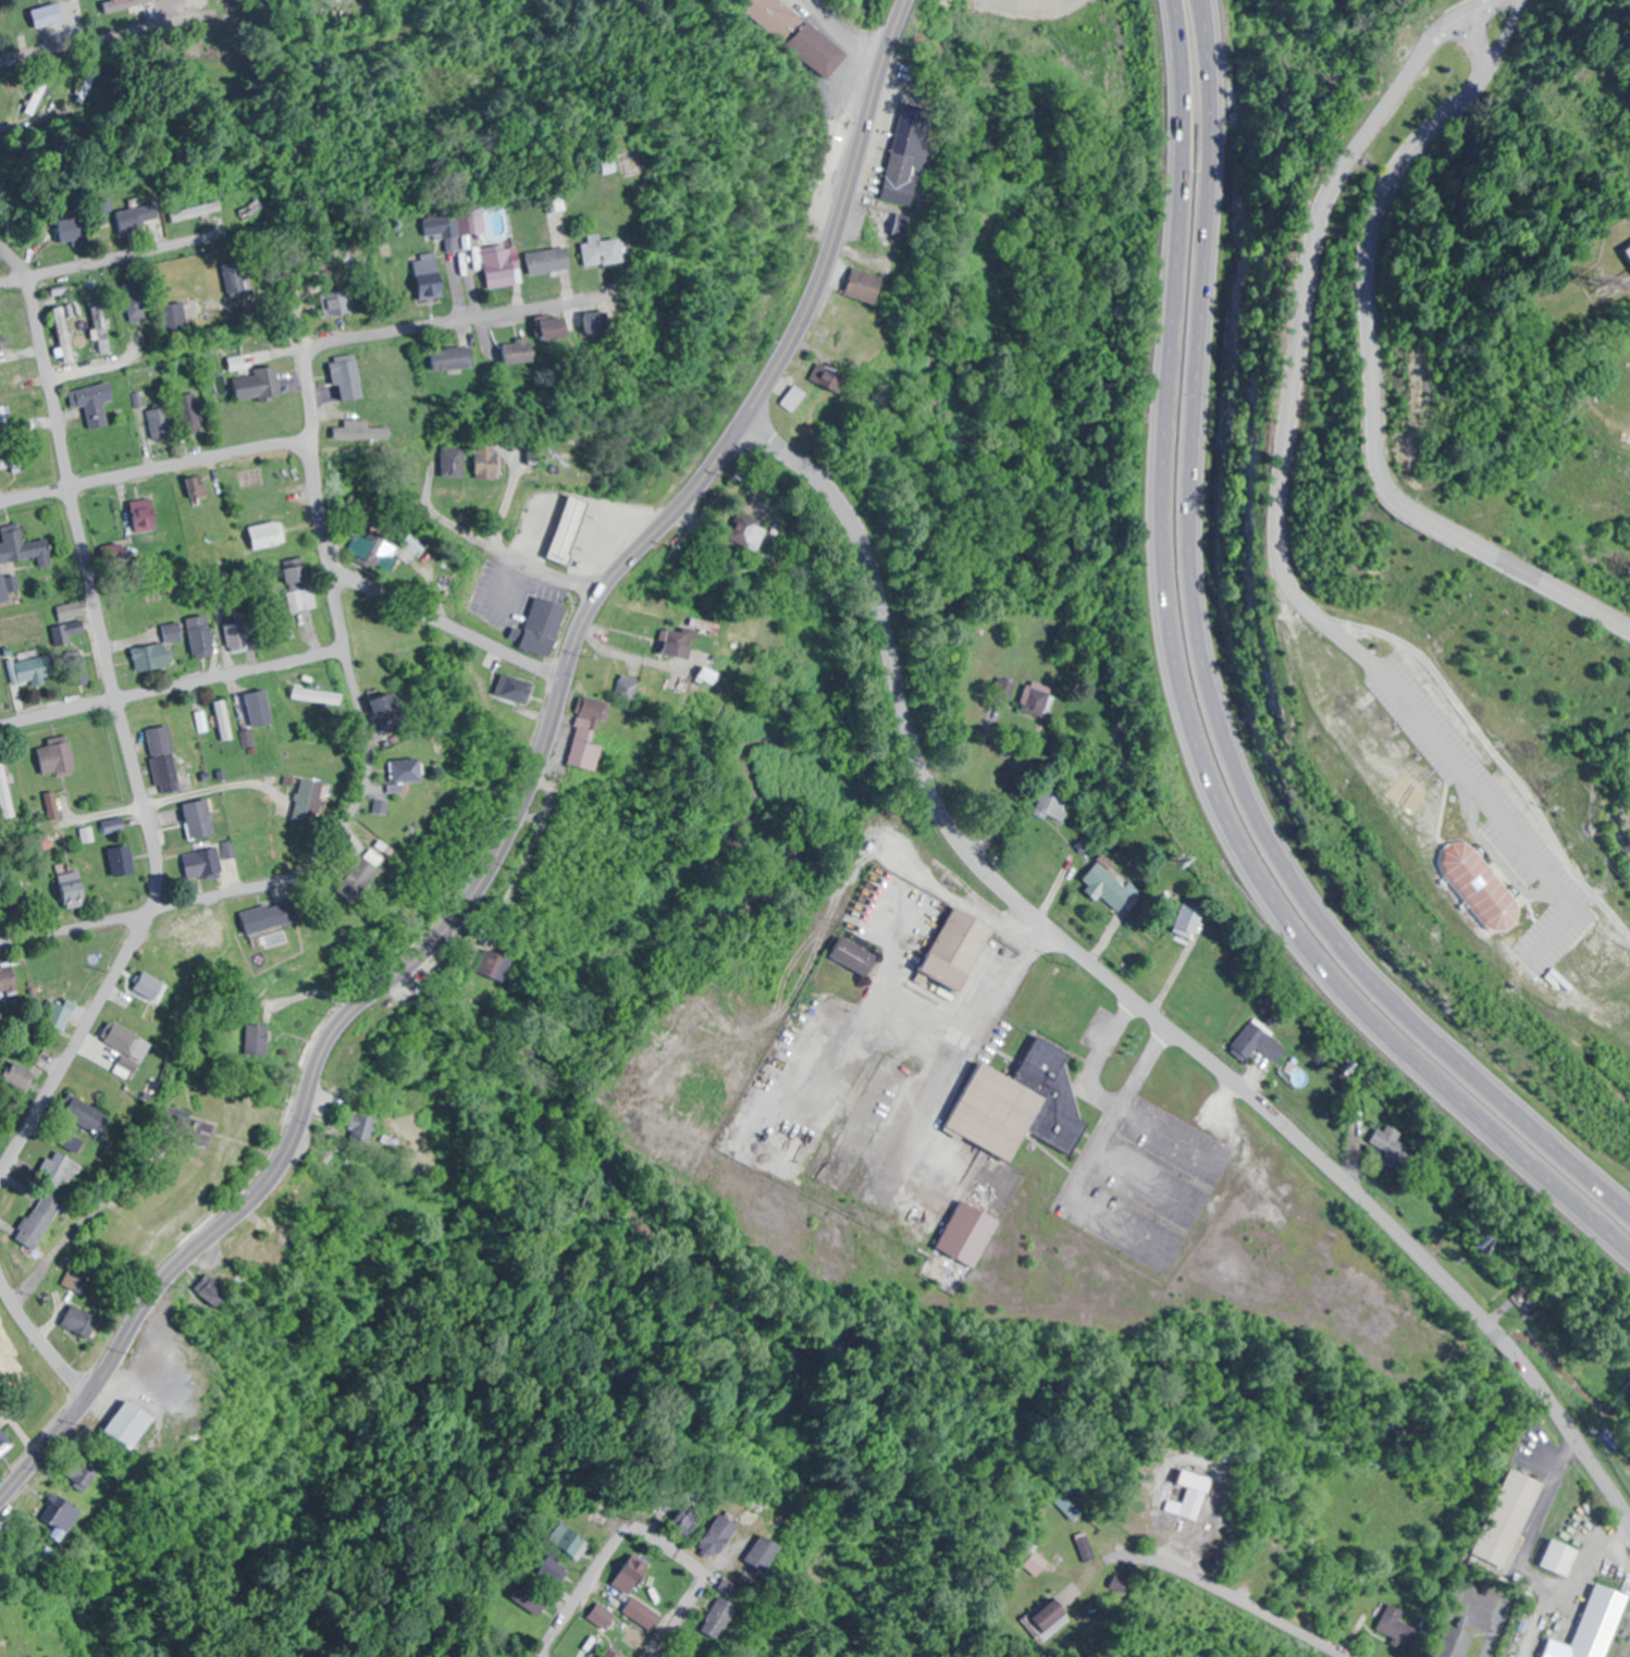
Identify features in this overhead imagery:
building: (47, 15)
road: (107, 33)
building: (905, 156)
building: (249, 207)
building: (196, 209)
building: (138, 217)
building: (875, 224)
building: (443, 227)
building: (73, 228)
building: (1629, 248)
building: (616, 249)
road: (111, 257)
building: (558, 260)
building: (508, 267)
building: (235, 279)
building: (433, 279)
building: (863, 284)
road: (270, 290)
building: (138, 300)
building: (334, 302)
building: (176, 318)
road: (457, 319)
building: (3, 320)
building: (610, 322)
building: (566, 327)
building: (101, 330)
building: (524, 350)
building: (456, 357)
road: (1369, 359)
building: (11, 370)
building: (826, 376)
building: (349, 379)
building: (258, 385)
building: (792, 398)
building: (97, 404)
building: (188, 410)
building: (162, 423)
building: (454, 462)
building: (489, 462)
building: (5, 469)
road: (155, 470)
building: (147, 514)
road: (1276, 528)
building: (569, 530)
building: (269, 534)
building: (752, 534)
building: (25, 548)
building: (372, 548)
building: (409, 548)
building: (299, 574)
building: (1, 590)
building: (304, 601)
building: (74, 618)
road: (338, 619)
building: (546, 620)
road: (446, 627)
building: (205, 638)
building: (236, 638)
building: (682, 639)
building: (161, 650)
building: (35, 669)
road: (1212, 682)
road: (171, 688)
building: (1002, 688)
building: (319, 696)
building: (1033, 700)
building: (256, 709)
building: (591, 709)
road: (1183, 712)
building: (225, 720)
road: (124, 724)
building: (582, 750)
building: (165, 756)
building: (59, 757)
building: (410, 770)
building: (7, 791)
road: (524, 794)
building: (312, 802)
building: (1049, 805)
building: (202, 819)
building: (124, 861)
building: (206, 864)
building: (359, 879)
building: (74, 888)
building: (1109, 889)
building: (12, 903)
road: (149, 910)
building: (275, 917)
building: (1187, 922)
building: (219, 937)
building: (188, 940)
building: (956, 949)
building: (852, 956)
building: (492, 965)
building: (8, 982)
building: (152, 987)
road: (1134, 1000)
building: (60, 1015)
building: (127, 1041)
building: (1258, 1042)
building: (347, 1073)
building: (18, 1080)
building: (1021, 1105)
building: (361, 1128)
building: (1390, 1146)
building: (334, 1160)
building: (59, 1168)
building: (310, 1195)
building: (40, 1220)
building: (966, 1234)
building: (259, 1259)
building: (74, 1278)
building: (210, 1293)
building: (85, 1320)
road: (39, 1336)
building: (129, 1423)
building: (5, 1442)
building: (84, 1471)
building: (1190, 1493)
building: (687, 1511)
building: (64, 1512)
building: (1508, 1518)
building: (723, 1528)
road: (639, 1532)
building: (569, 1542)
building: (762, 1553)
building: (1557, 1556)
building: (629, 1574)
road: (1231, 1597)
building: (530, 1604)
building: (1393, 1625)
building: (1590, 1625)
building: (1452, 1642)

